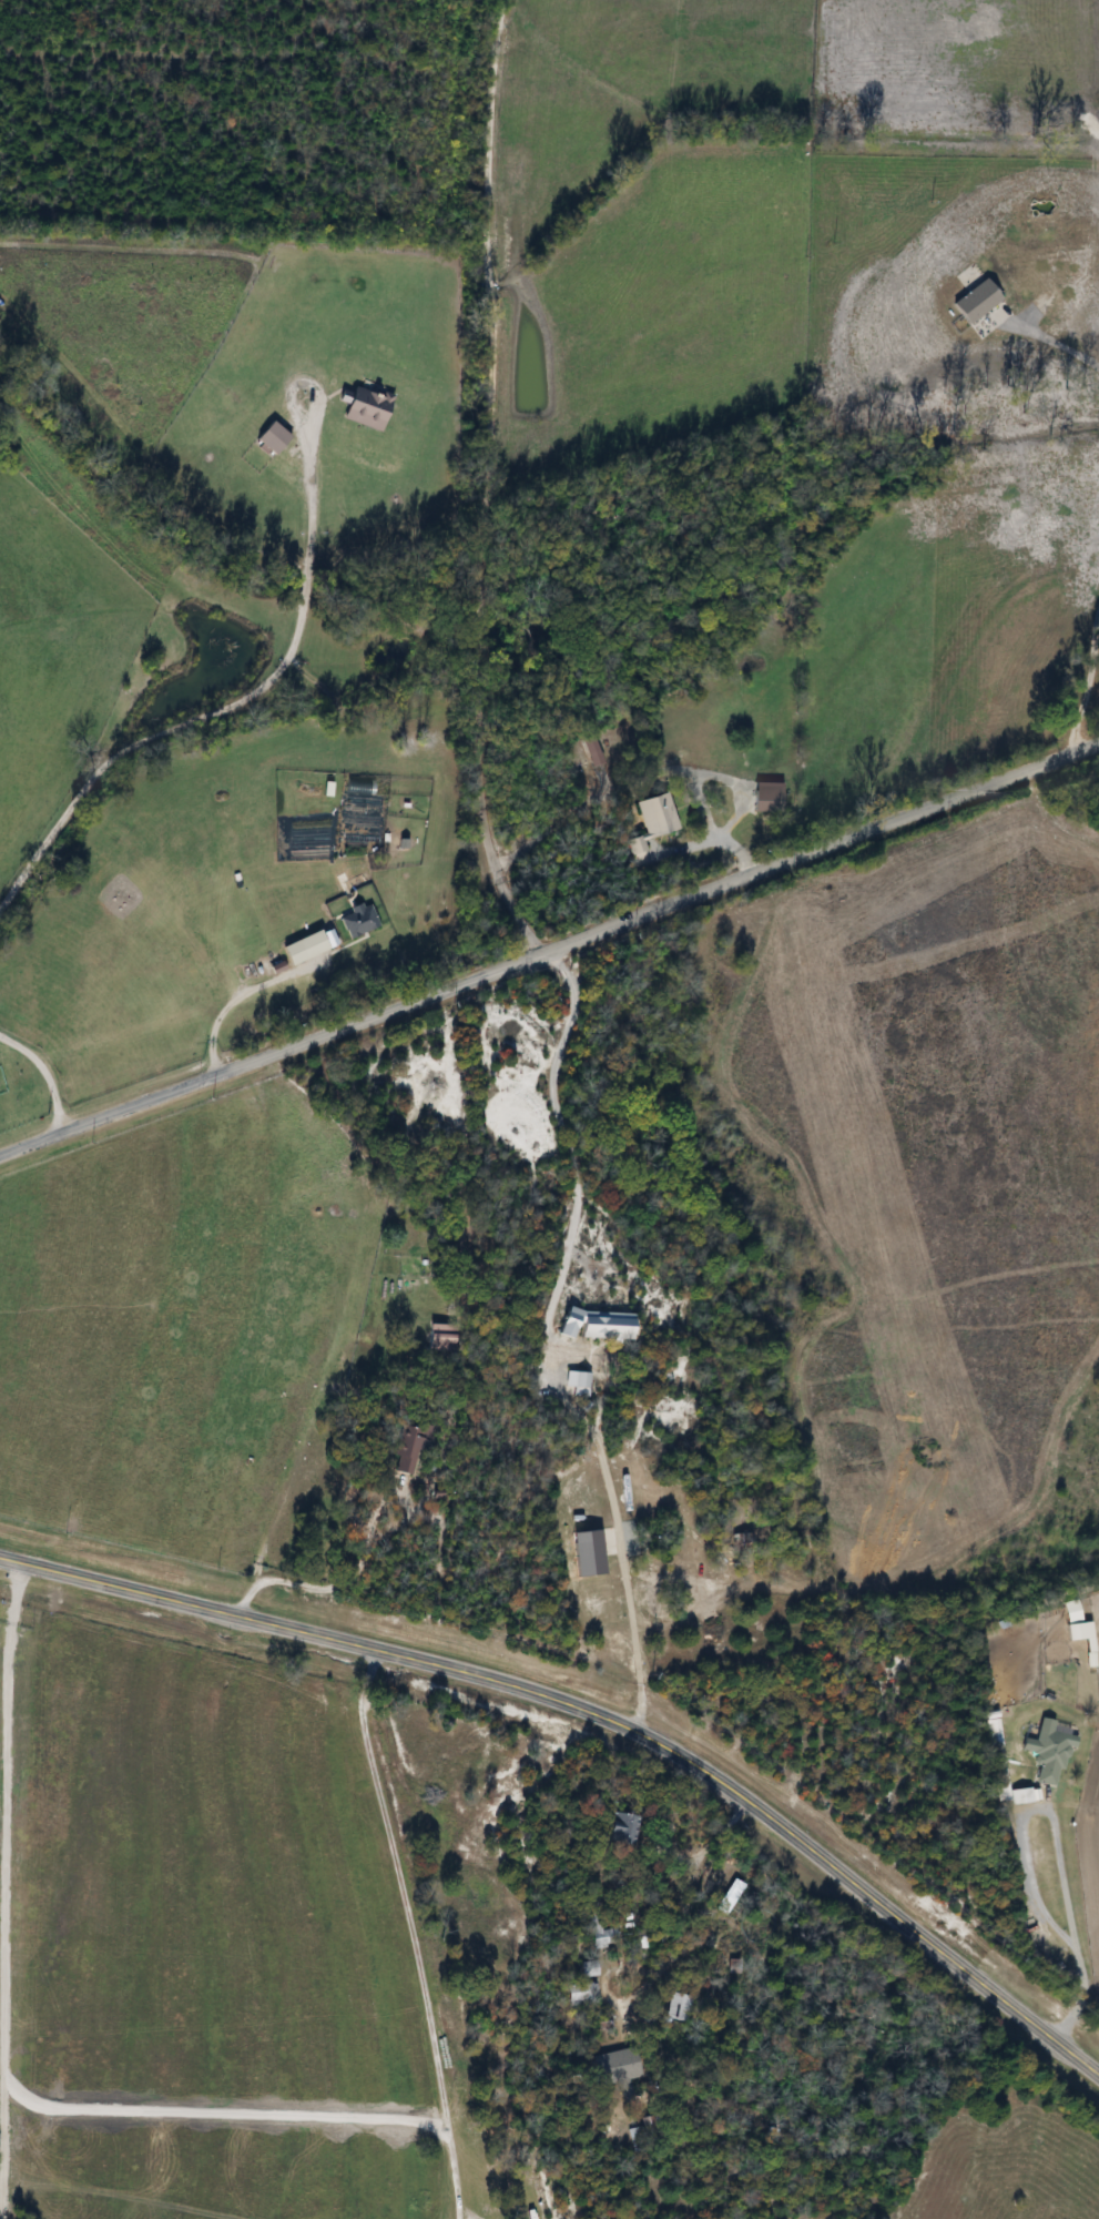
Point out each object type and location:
road: (1076, 351)
building: (373, 411)
building: (278, 439)
road: (482, 484)
road: (1083, 677)
road: (240, 700)
building: (653, 813)
road: (550, 952)
road: (242, 995)
road: (48, 1072)
road: (570, 1156)
building: (592, 1326)
building: (442, 1337)
building: (576, 1382)
road: (326, 1584)
road: (628, 1591)
building: (1071, 1620)
road: (598, 1712)
building: (1045, 1753)
building: (617, 1828)
road: (1051, 1841)
road: (414, 1931)
building: (574, 1995)
building: (682, 2007)
building: (607, 2066)

